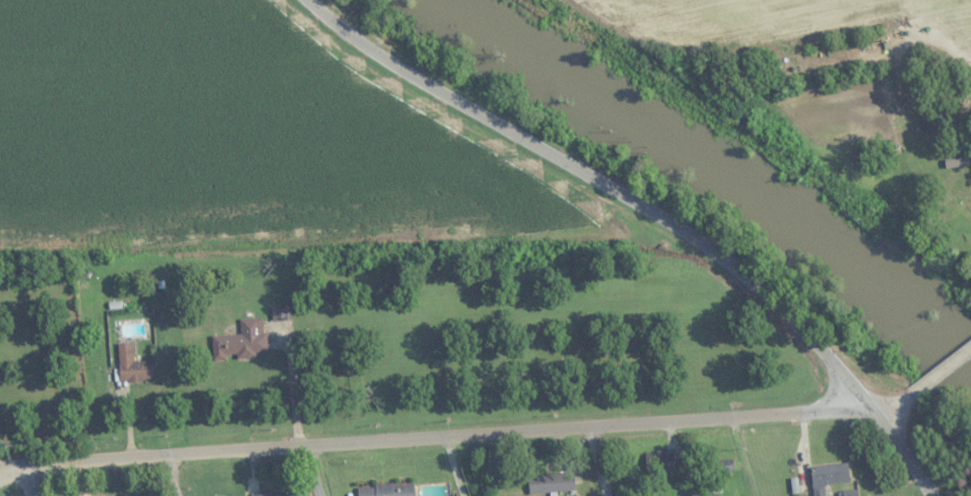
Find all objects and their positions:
river: (722, 179)
road: (607, 186)
building: (968, 191)
building: (241, 341)
building: (132, 365)
road: (947, 365)
road: (899, 400)
road: (434, 438)
road: (905, 454)
building: (659, 461)
road: (599, 462)
road: (312, 472)
building: (829, 474)
road: (34, 480)
building: (550, 483)
building: (385, 490)
building: (269, 494)

